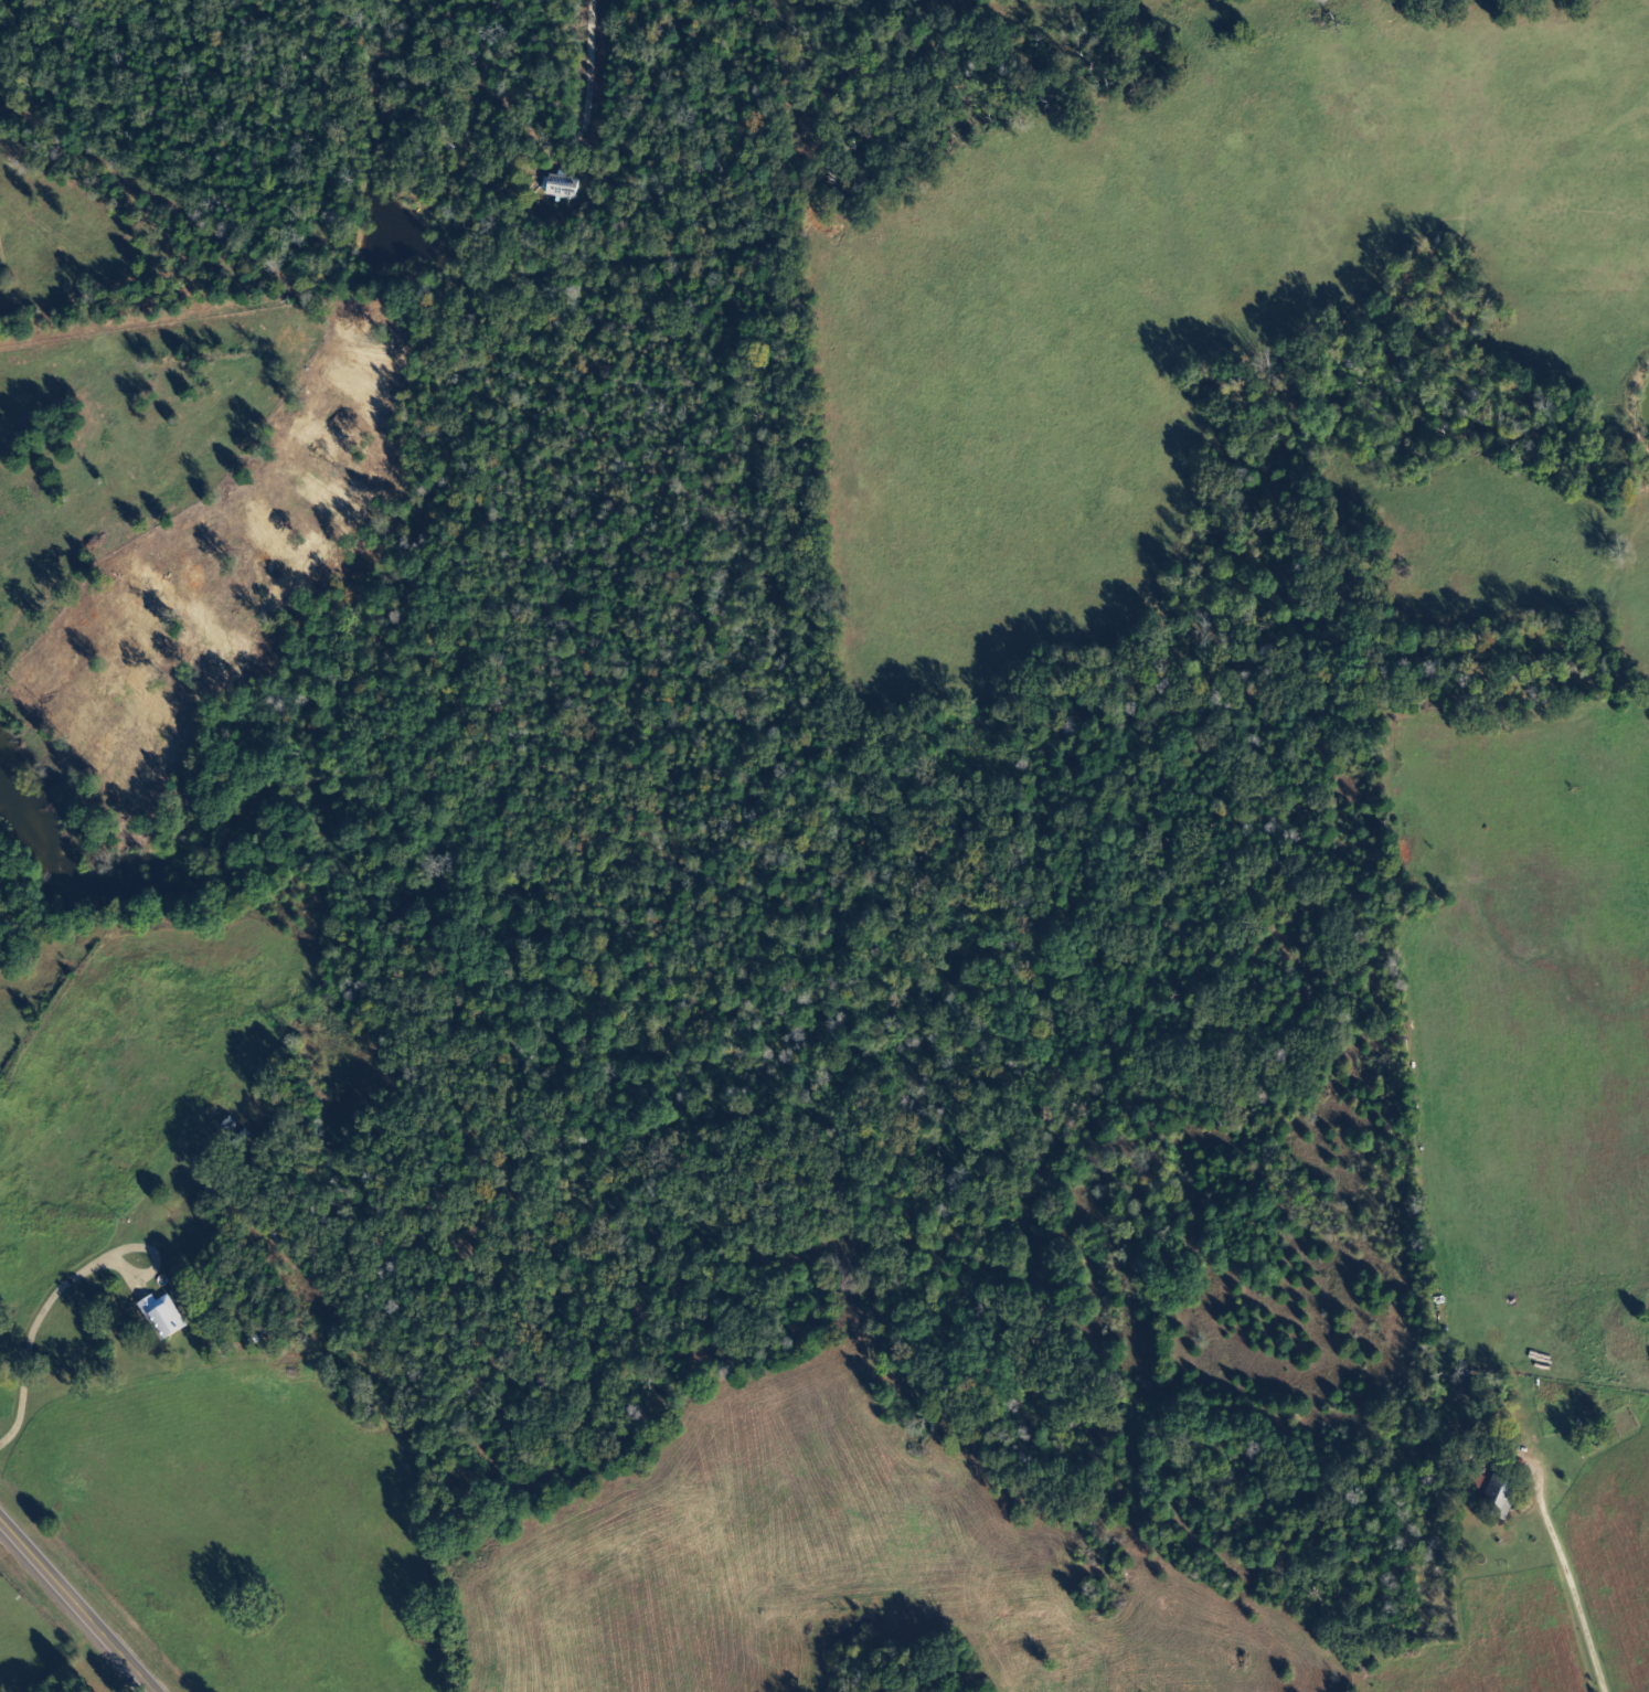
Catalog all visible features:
building: (564, 189)
building: (166, 1318)
road: (78, 1605)

